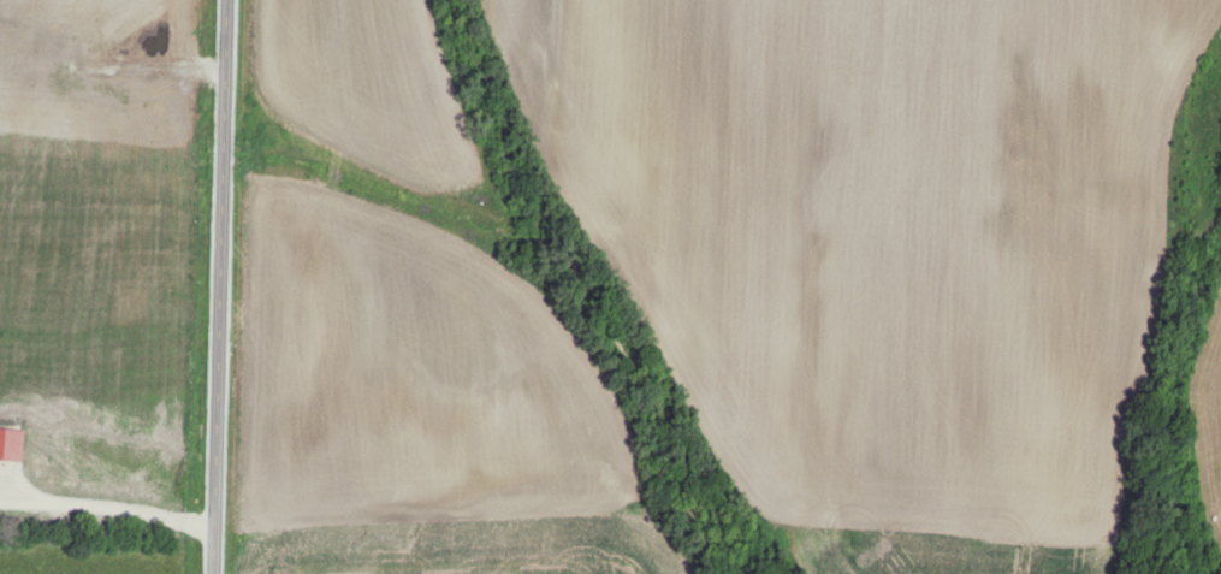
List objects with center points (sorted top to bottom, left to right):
road: (220, 286)

